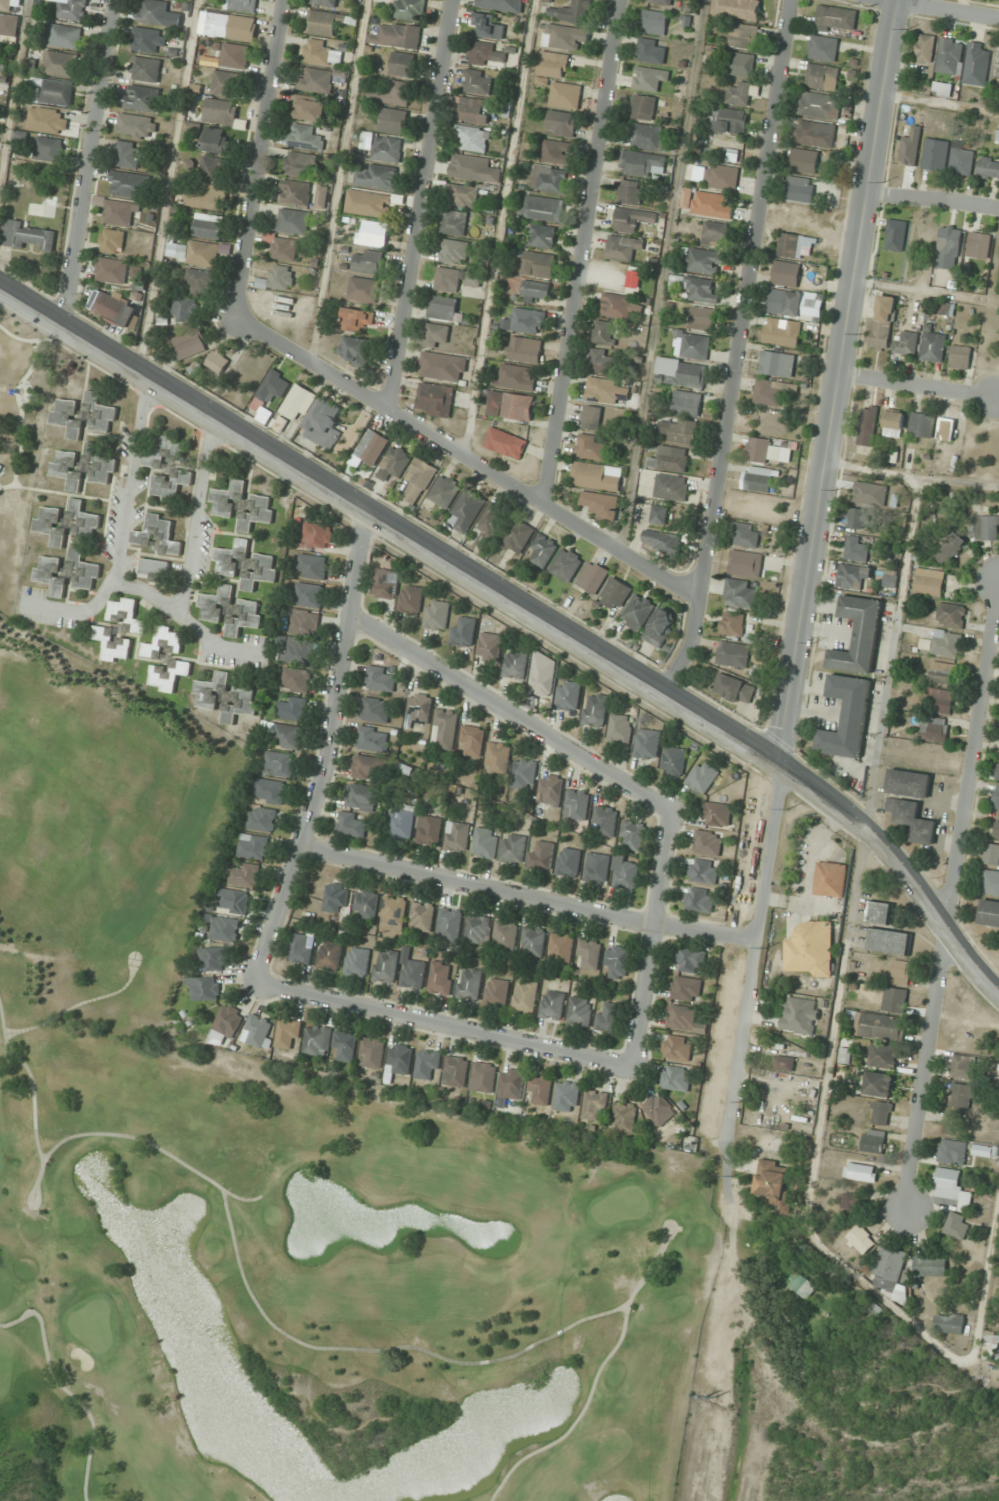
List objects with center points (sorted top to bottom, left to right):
building: (324, 2)
building: (660, 2)
building: (6, 5)
building: (242, 5)
building: (501, 5)
building: (737, 8)
building: (73, 9)
building: (409, 9)
road: (934, 10)
building: (154, 11)
building: (572, 12)
building: (835, 18)
building: (326, 22)
building: (654, 22)
building: (10, 25)
building: (233, 26)
building: (489, 26)
building: (66, 36)
building: (397, 36)
building: (565, 36)
building: (743, 36)
building: (150, 40)
building: (0, 46)
building: (822, 48)
building: (924, 48)
building: (650, 51)
building: (320, 53)
building: (485, 54)
building: (235, 56)
building: (949, 56)
building: (62, 64)
building: (403, 64)
building: (552, 64)
building: (977, 64)
building: (741, 65)
building: (997, 67)
building: (147, 69)
building: (821, 76)
building: (649, 78)
building: (316, 80)
building: (477, 82)
building: (225, 83)
building: (57, 92)
building: (392, 93)
building: (739, 93)
building: (565, 95)
building: (143, 98)
building: (819, 105)
building: (642, 107)
building: (310, 109)
building: (474, 110)
building: (223, 113)
building: (48, 119)
building: (730, 120)
building: (393, 121)
building: (560, 123)
building: (136, 125)
building: (815, 134)
building: (647, 136)
building: (997, 136)
building: (305, 137)
building: (473, 138)
building: (218, 141)
building: (51, 149)
building: (387, 149)
building: (556, 151)
building: (935, 154)
building: (131, 155)
building: (961, 159)
road: (260, 160)
building: (803, 160)
road: (93, 163)
building: (301, 164)
building: (643, 164)
building: (988, 167)
building: (474, 168)
building: (214, 169)
building: (378, 177)
building: (721, 177)
building: (549, 178)
building: (131, 184)
building: (800, 190)
building: (630, 192)
building: (296, 193)
building: (463, 196)
building: (210, 198)
road: (934, 201)
building: (706, 203)
building: (368, 204)
road: (420, 204)
building: (542, 208)
building: (122, 212)
building: (632, 219)
building: (293, 221)
building: (454, 222)
building: (209, 226)
building: (373, 233)
building: (715, 234)
building: (29, 235)
building: (895, 235)
building: (542, 236)
building: (114, 241)
building: (793, 244)
building: (978, 245)
building: (947, 247)
building: (623, 248)
building: (285, 249)
building: (454, 251)
building: (197, 252)
road: (579, 254)
building: (368, 261)
building: (705, 261)
building: (539, 264)
building: (113, 271)
building: (786, 273)
building: (279, 279)
building: (456, 279)
building: (202, 280)
building: (699, 288)
building: (363, 289)
building: (534, 291)
building: (785, 302)
building: (619, 305)
building: (443, 307)
building: (117, 308)
building: (185, 309)
building: (702, 318)
building: (356, 319)
building: (527, 320)
building: (882, 322)
building: (604, 332)
building: (782, 333)
building: (437, 335)
building: (906, 342)
building: (190, 344)
building: (693, 346)
building: (933, 346)
building: (525, 349)
building: (356, 350)
road: (736, 350)
building: (960, 357)
building: (219, 362)
building: (601, 362)
building: (776, 363)
building: (436, 365)
building: (682, 372)
building: (518, 377)
road: (918, 388)
building: (272, 389)
building: (607, 391)
building: (771, 391)
building: (436, 399)
building: (299, 402)
building: (687, 403)
building: (510, 405)
building: (101, 412)
building: (590, 417)
building: (69, 418)
building: (893, 422)
building: (324, 424)
building: (921, 424)
building: (867, 425)
building: (946, 428)
building: (679, 430)
park: (20, 434)
building: (505, 442)
building: (372, 446)
building: (590, 447)
building: (768, 451)
road: (467, 459)
building: (670, 459)
building: (101, 464)
building: (66, 465)
building: (394, 465)
building: (169, 469)
building: (596, 476)
building: (759, 479)
building: (419, 481)
building: (671, 487)
building: (445, 491)
building: (870, 494)
building: (228, 498)
building: (601, 504)
building: (467, 510)
building: (258, 512)
building: (659, 515)
building: (857, 518)
building: (85, 520)
building: (493, 520)
building: (52, 525)
building: (986, 527)
building: (746, 534)
building: (158, 535)
building: (518, 535)
building: (317, 536)
building: (663, 540)
building: (856, 548)
building: (950, 548)
building: (543, 550)
building: (232, 557)
building: (745, 563)
building: (567, 564)
building: (313, 566)
road: (812, 569)
building: (85, 570)
building: (155, 570)
building: (262, 570)
building: (53, 575)
building: (849, 575)
building: (593, 577)
building: (929, 582)
building: (384, 583)
building: (739, 593)
building: (309, 594)
building: (616, 594)
building: (411, 599)
building: (217, 602)
road: (524, 610)
building: (637, 612)
building: (437, 614)
building: (951, 615)
building: (246, 617)
building: (305, 623)
building: (734, 624)
building: (660, 627)
building: (121, 629)
building: (464, 632)
building: (859, 635)
building: (942, 643)
building: (489, 647)
building: (300, 650)
building: (733, 654)
building: (166, 658)
building: (516, 664)
building: (943, 673)
building: (381, 678)
building: (297, 680)
building: (734, 688)
building: (212, 691)
building: (569, 696)
building: (940, 700)
building: (241, 704)
building: (419, 707)
building: (292, 709)
building: (376, 709)
building: (596, 709)
road: (509, 712)
building: (847, 717)
building: (447, 728)
building: (621, 728)
building: (934, 728)
building: (288, 736)
building: (373, 739)
building: (473, 740)
building: (647, 743)
road: (326, 752)
building: (498, 757)
building: (673, 761)
building: (279, 764)
building: (369, 767)
building: (998, 771)
building: (525, 774)
building: (703, 777)
building: (908, 783)
building: (551, 789)
building: (269, 791)
building: (363, 797)
building: (996, 798)
building: (577, 804)
building: (717, 814)
building: (262, 819)
building: (913, 819)
building: (606, 820)
building: (402, 822)
building: (352, 824)
building: (996, 829)
building: (430, 830)
building: (633, 835)
building: (457, 836)
building: (708, 842)
building: (485, 843)
building: (255, 847)
building: (513, 848)
building: (991, 854)
building: (541, 855)
building: (569, 862)
building: (597, 868)
building: (703, 871)
building: (245, 875)
building: (626, 875)
building: (830, 879)
building: (990, 883)
road: (525, 894)
road: (958, 897)
building: (336, 898)
building: (700, 899)
building: (233, 900)
building: (366, 904)
building: (394, 912)
building: (880, 912)
building: (989, 913)
building: (422, 916)
building: (450, 924)
building: (225, 928)
building: (478, 929)
building: (505, 935)
road: (651, 937)
building: (889, 940)
building: (533, 941)
building: (561, 947)
building: (302, 948)
building: (811, 948)
building: (588, 954)
building: (330, 955)
building: (214, 959)
building: (690, 960)
building: (358, 961)
building: (617, 961)
building: (385, 966)
building: (901, 971)
building: (413, 974)
building: (442, 978)
building: (469, 984)
building: (204, 988)
building: (686, 988)
building: (497, 992)
building: (525, 997)
building: (895, 999)
building: (552, 1005)
building: (580, 1011)
building: (800, 1016)
building: (609, 1018)
building: (684, 1019)
road: (444, 1023)
building: (227, 1024)
building: (877, 1026)
building: (259, 1031)
building: (289, 1033)
building: (318, 1040)
building: (345, 1046)
building: (677, 1047)
building: (373, 1053)
building: (844, 1054)
building: (882, 1056)
building: (784, 1062)
building: (428, 1064)
building: (963, 1066)
building: (456, 1071)
building: (484, 1077)
building: (676, 1078)
building: (512, 1083)
building: (879, 1084)
building: (567, 1096)
building: (961, 1096)
building: (595, 1104)
building: (659, 1109)
building: (881, 1113)
building: (624, 1117)
building: (953, 1123)
building: (873, 1141)
building: (985, 1150)
building: (952, 1151)
building: (860, 1172)
building: (774, 1183)
building: (950, 1187)
park: (283, 1195)
building: (850, 1203)
building: (957, 1225)
building: (861, 1239)
building: (929, 1266)
building: (889, 1269)
building: (798, 1283)
building: (949, 1323)
power tower: (708, 1397)

